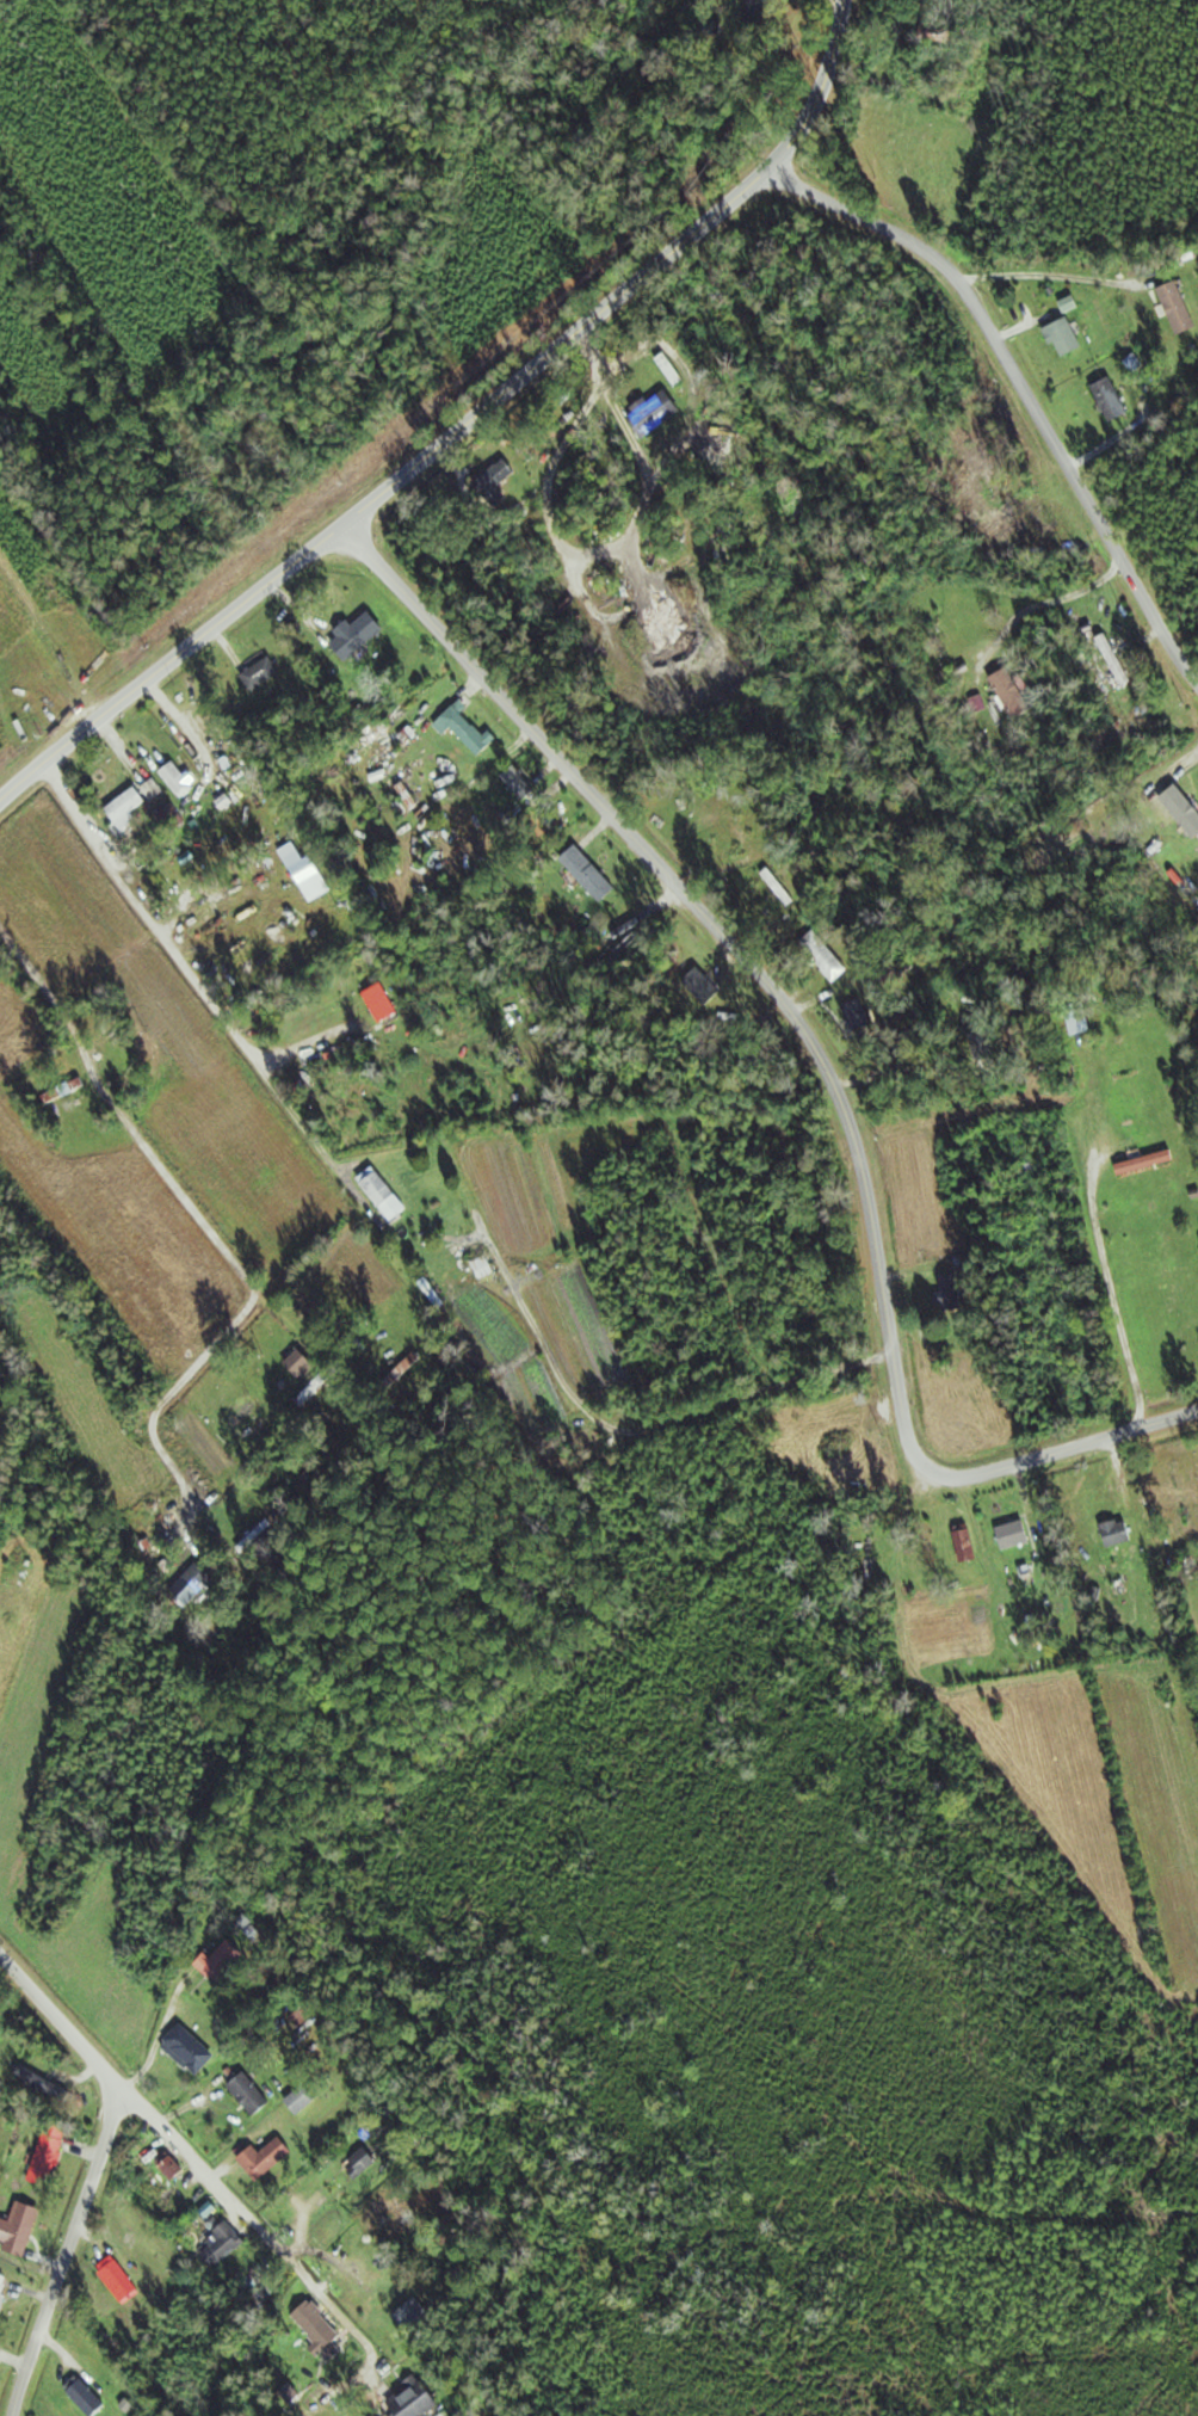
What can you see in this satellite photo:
building: (764, 8)
building: (940, 33)
building: (1180, 307)
building: (1070, 335)
building: (672, 368)
road: (1020, 390)
building: (1113, 399)
building: (657, 412)
road: (462, 432)
building: (499, 476)
building: (360, 634)
building: (264, 672)
building: (1014, 694)
building: (468, 727)
building: (180, 779)
building: (526, 788)
building: (135, 803)
building: (1177, 806)
building: (742, 833)
building: (592, 870)
building: (311, 873)
building: (827, 955)
road: (193, 974)
building: (706, 986)
building: (863, 1015)
building: (1085, 1018)
road: (820, 1055)
building: (1149, 1161)
building: (385, 1194)
road: (205, 1224)
building: (486, 1266)
building: (955, 1294)
building: (304, 1362)
building: (409, 1364)
building: (315, 1389)
building: (247, 1412)
building: (1120, 1534)
building: (1017, 1535)
building: (154, 1537)
building: (969, 1543)
building: (196, 1583)
building: (1042, 1619)
building: (229, 1960)
building: (193, 2048)
building: (44, 2082)
building: (253, 2094)
building: (305, 2100)
building: (51, 2152)
building: (268, 2158)
building: (365, 2163)
building: (174, 2167)
road: (98, 2169)
building: (148, 2177)
road: (223, 2188)
building: (21, 2229)
building: (227, 2243)
building: (122, 2280)
building: (4, 2289)
building: (415, 2315)
building: (322, 2331)
building: (89, 2397)
building: (416, 2399)

